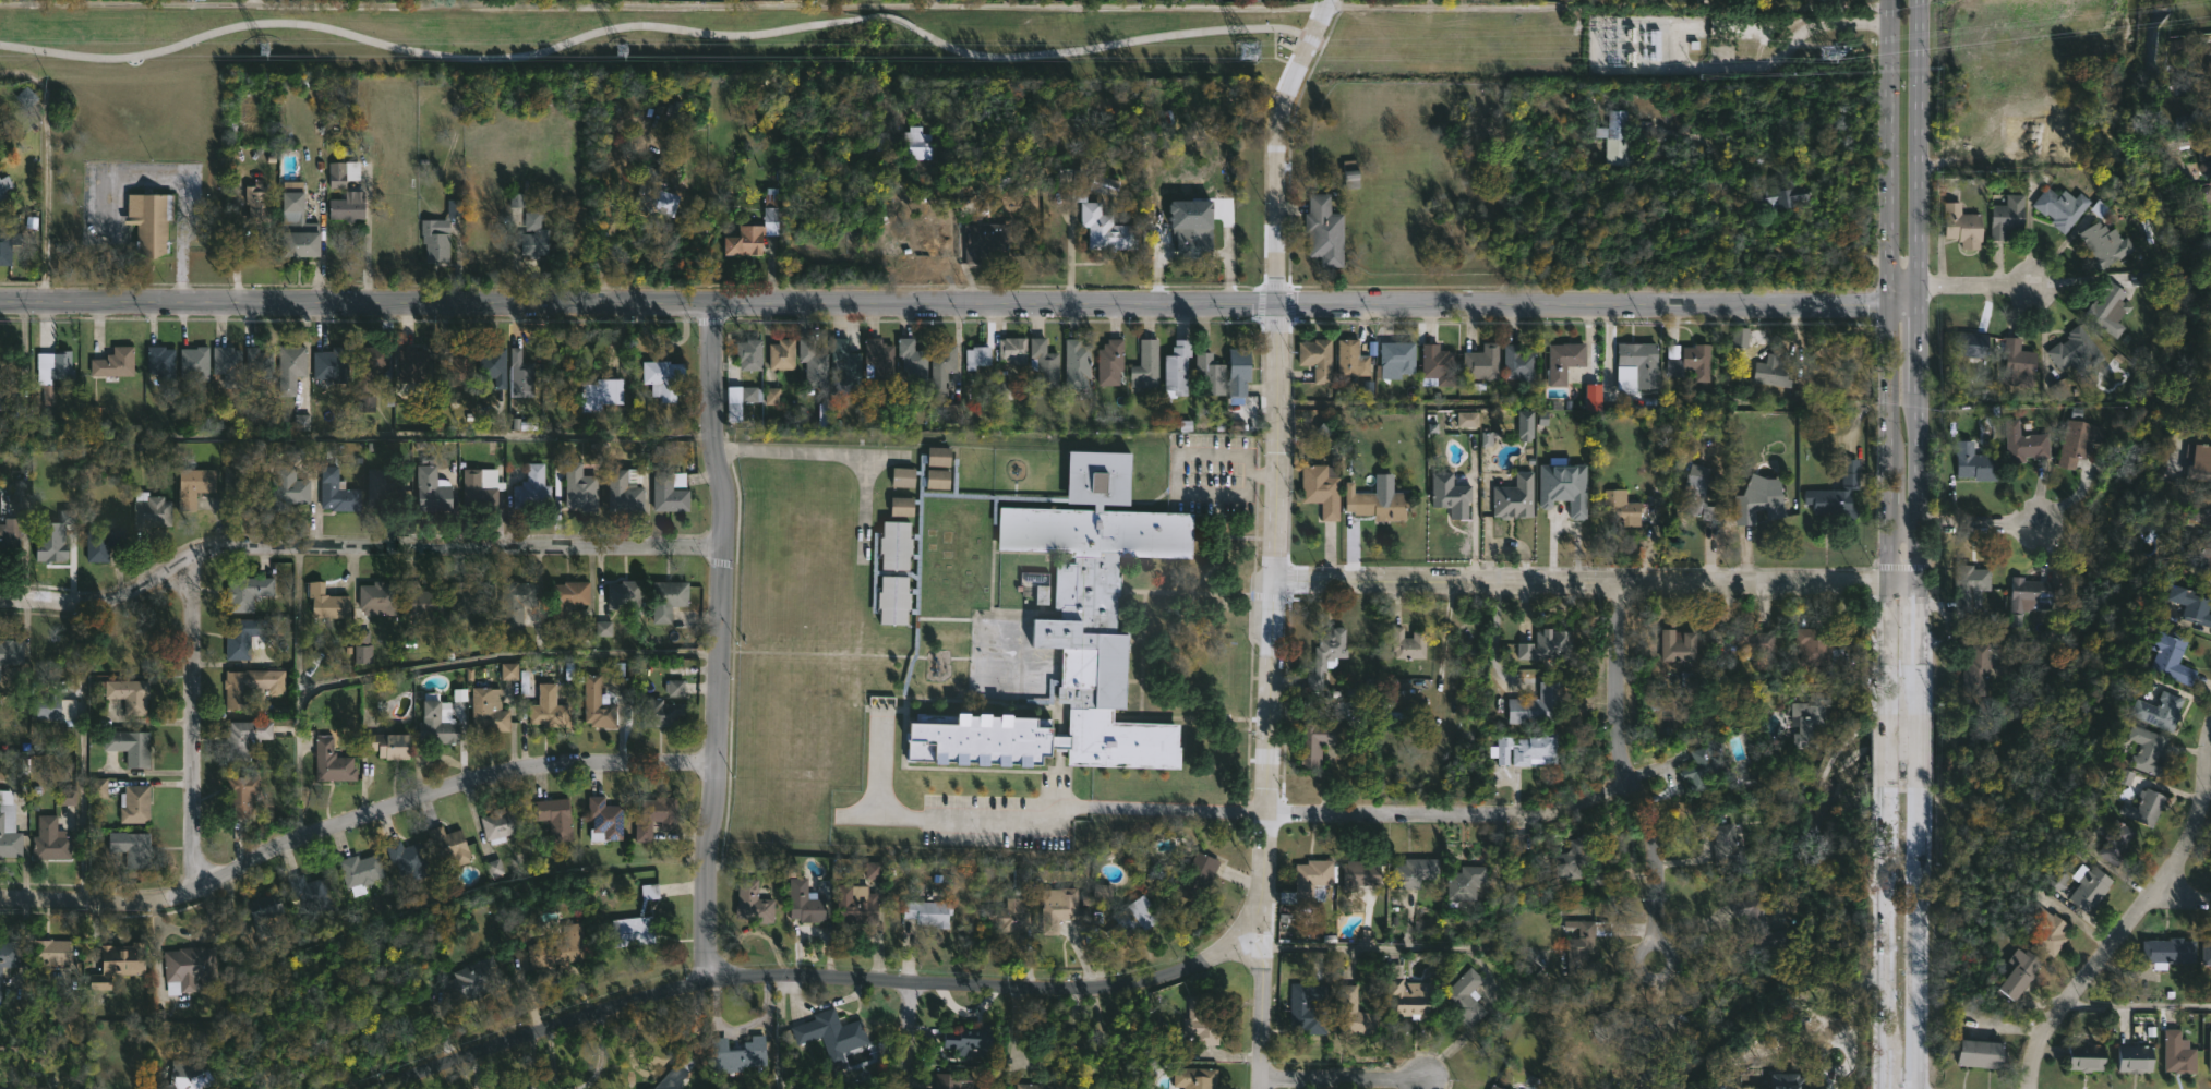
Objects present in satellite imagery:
building: (1685, 0)
road: (658, 23)
power substation: (1647, 44)
building: (2175, 46)
power tower: (263, 48)
power tower: (616, 50)
power tower: (1247, 52)
power tower: (1836, 52)
power tower: (1639, 57)
building: (2208, 68)
building: (2209, 101)
building: (2194, 120)
building: (1615, 137)
building: (916, 143)
road: (1274, 145)
building: (2207, 162)
road: (1795, 172)
building: (341, 173)
building: (1351, 173)
road: (179, 177)
building: (1104, 185)
building: (649, 190)
building: (2206, 193)
building: (1781, 194)
building: (3, 196)
building: (516, 201)
building: (256, 203)
building: (2063, 206)
road: (910, 207)
building: (346, 208)
building: (454, 208)
building: (2008, 216)
building: (1098, 218)
building: (149, 220)
building: (297, 226)
building: (1963, 226)
building: (1325, 231)
building: (752, 235)
building: (1194, 235)
building: (534, 237)
road: (367, 238)
building: (434, 242)
building: (984, 242)
building: (2104, 244)
road: (609, 247)
building: (4, 249)
road: (1978, 288)
road: (638, 301)
road: (1598, 303)
building: (2110, 311)
building: (1739, 337)
building: (1973, 344)
building: (1013, 350)
building: (2077, 351)
building: (749, 355)
building: (782, 355)
building: (976, 356)
road: (1888, 356)
road: (1916, 356)
building: (1318, 359)
building: (1353, 359)
building: (1395, 359)
building: (879, 360)
building: (912, 360)
building: (159, 362)
building: (1110, 362)
building: (1481, 362)
building: (113, 363)
building: (194, 363)
building: (226, 363)
building: (1567, 363)
building: (1692, 363)
building: (331, 364)
building: (368, 364)
building: (814, 364)
building: (846, 364)
building: (1044, 364)
building: (1521, 364)
building: (1642, 364)
building: (2019, 364)
building: (412, 365)
building: (493, 365)
building: (1078, 365)
building: (1146, 365)
building: (1439, 365)
building: (61, 366)
building: (256, 366)
building: (455, 366)
building: (290, 368)
building: (942, 368)
building: (1177, 368)
building: (1238, 371)
building: (1771, 372)
building: (1211, 374)
building: (520, 375)
building: (662, 378)
building: (2057, 390)
building: (10, 394)
building: (601, 395)
building: (771, 396)
building: (1000, 398)
building: (738, 401)
building: (951, 413)
building: (1467, 419)
building: (301, 422)
building: (1486, 438)
building: (2079, 438)
building: (2026, 443)
road: (793, 456)
building: (1976, 462)
building: (2198, 463)
road: (1175, 483)
building: (192, 486)
building: (479, 486)
building: (20, 487)
building: (288, 487)
building: (1565, 487)
building: (580, 488)
building: (431, 489)
building: (378, 491)
building: (531, 491)
building: (1322, 491)
building: (239, 492)
building: (624, 492)
building: (336, 493)
building: (1838, 493)
building: (669, 494)
building: (1451, 494)
building: (1697, 495)
building: (1513, 498)
building: (1759, 499)
building: (1382, 506)
building: (1620, 507)
building: (2198, 509)
building: (149, 511)
road: (1903, 521)
road: (1975, 522)
road: (353, 537)
building: (8, 540)
building: (101, 543)
building: (50, 550)
building: (2197, 554)
building: (1032, 582)
road: (1597, 583)
building: (1970, 586)
building: (245, 593)
building: (1041, 594)
building: (2027, 595)
building: (470, 596)
building: (625, 596)
building: (377, 598)
building: (668, 598)
road: (1275, 601)
building: (418, 602)
building: (565, 602)
building: (326, 603)
building: (515, 603)
building: (2192, 604)
building: (923, 609)
building: (2015, 619)
building: (602, 629)
building: (241, 638)
road: (720, 641)
building: (1754, 642)
building: (1409, 644)
building: (1545, 645)
building: (128, 646)
building: (361, 648)
building: (1680, 648)
building: (1818, 649)
building: (11, 652)
road: (508, 655)
building: (1327, 656)
building: (2175, 660)
building: (617, 669)
building: (1978, 670)
building: (508, 671)
building: (242, 687)
road: (300, 688)
building: (674, 688)
building: (127, 695)
building: (594, 704)
building: (1539, 707)
building: (55, 710)
building: (548, 710)
building: (488, 711)
building: (2161, 711)
building: (1810, 713)
building: (661, 714)
road: (191, 722)
building: (436, 726)
building: (242, 739)
building: (1318, 742)
building: (389, 746)
building: (134, 748)
building: (1525, 751)
road: (83, 752)
road: (1885, 752)
road: (1915, 752)
building: (2152, 753)
building: (332, 764)
building: (1707, 765)
road: (1627, 776)
building: (98, 787)
road: (2204, 795)
building: (240, 796)
building: (67, 797)
road: (1101, 800)
building: (2151, 804)
building: (134, 806)
building: (555, 816)
building: (657, 816)
road: (1451, 818)
road: (355, 820)
building: (605, 820)
building: (501, 822)
building: (9, 831)
building: (2119, 839)
building: (49, 840)
building: (1723, 840)
building: (449, 844)
building: (132, 849)
building: (1571, 857)
building: (408, 859)
building: (494, 868)
building: (872, 870)
building: (360, 871)
building: (1416, 871)
building: (1361, 873)
building: (1197, 876)
building: (1598, 880)
building: (1310, 881)
building: (2057, 882)
building: (1462, 884)
building: (2090, 888)
building: (1102, 892)
building: (309, 895)
building: (804, 899)
building: (753, 903)
road: (2179, 903)
building: (856, 904)
building: (1058, 907)
building: (928, 911)
building: (264, 912)
building: (1007, 915)
building: (1133, 919)
building: (1758, 922)
road: (2130, 925)
building: (2050, 929)
building: (633, 930)
road: (1884, 940)
road: (1914, 941)
building: (1584, 944)
building: (561, 947)
building: (2207, 949)
building: (2171, 951)
building: (47, 954)
building: (5, 955)
building: (118, 963)
building: (185, 968)
building: (2020, 975)
road: (822, 977)
building: (472, 982)
road: (1262, 994)
building: (1408, 994)
building: (1466, 995)
building: (1309, 1007)
road: (2140, 1007)
building: (1354, 1013)
building: (1202, 1017)
building: (1625, 1027)
building: (831, 1032)
road: (905, 1034)
building: (964, 1037)
building: (1981, 1052)
building: (2209, 1052)
building: (2178, 1053)
building: (738, 1054)
building: (862, 1054)
building: (2087, 1056)
building: (2136, 1057)
building: (184, 1065)
building: (682, 1068)
building: (1195, 1078)
road: (1344, 1078)
building: (953, 1080)
building: (1790, 1080)
building: (1041, 1086)
building: (821, 1087)
building: (1495, 1087)
building: (5, 1088)

